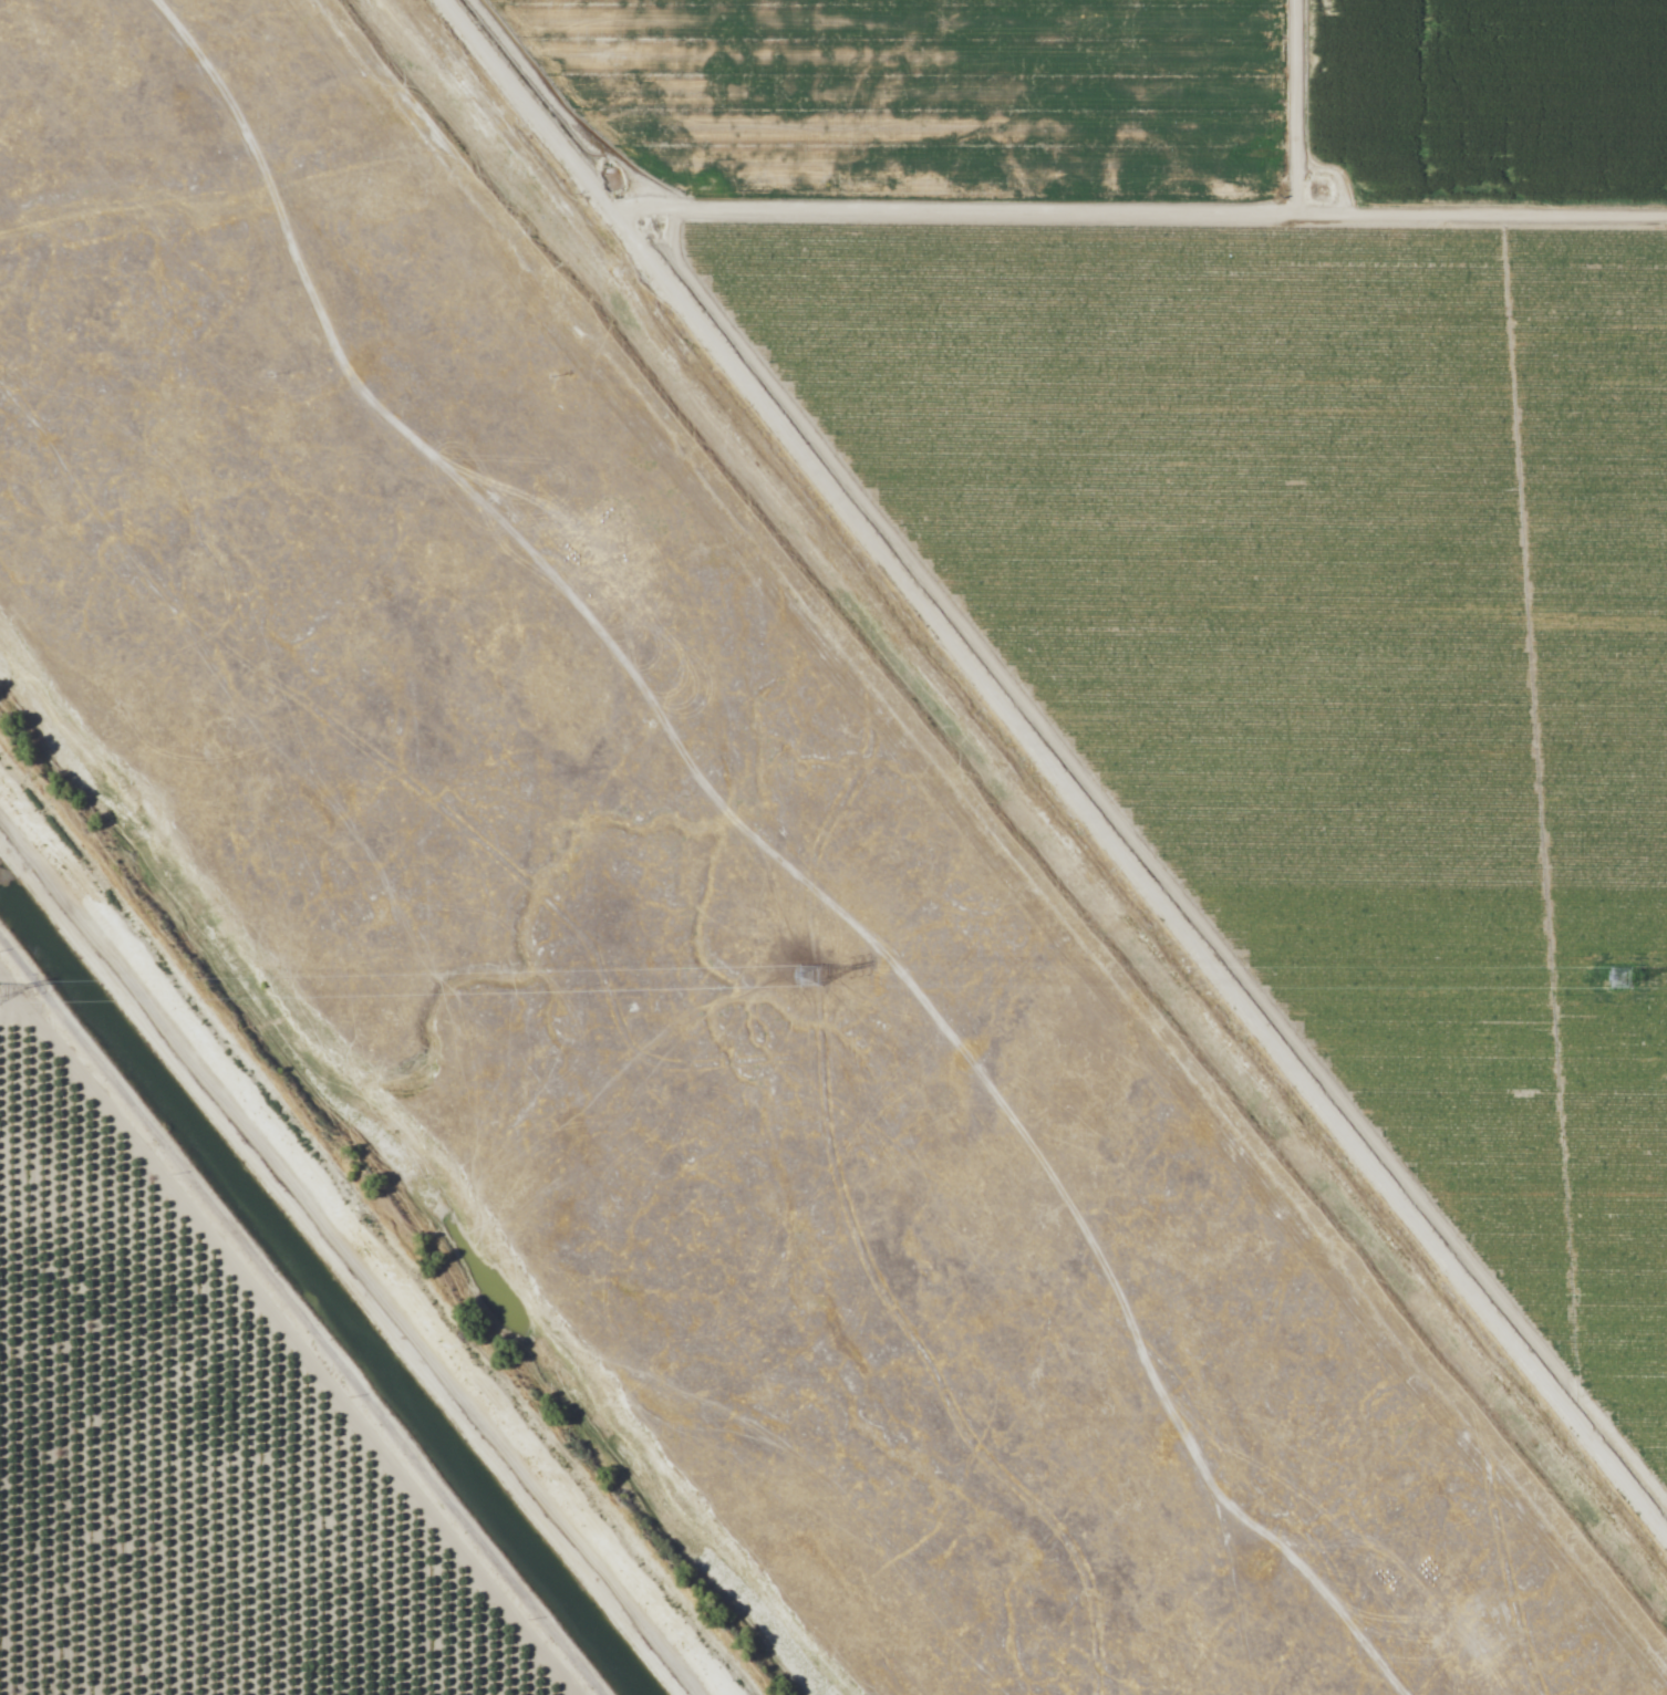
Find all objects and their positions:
crop: (1479, 197)
road: (1141, 208)
crop: (1033, 323)
road: (1060, 761)
crop: (1498, 815)
power tower: (808, 977)
power tower: (1619, 978)
road: (352, 1252)
road: (294, 1317)
crop: (186, 1458)

